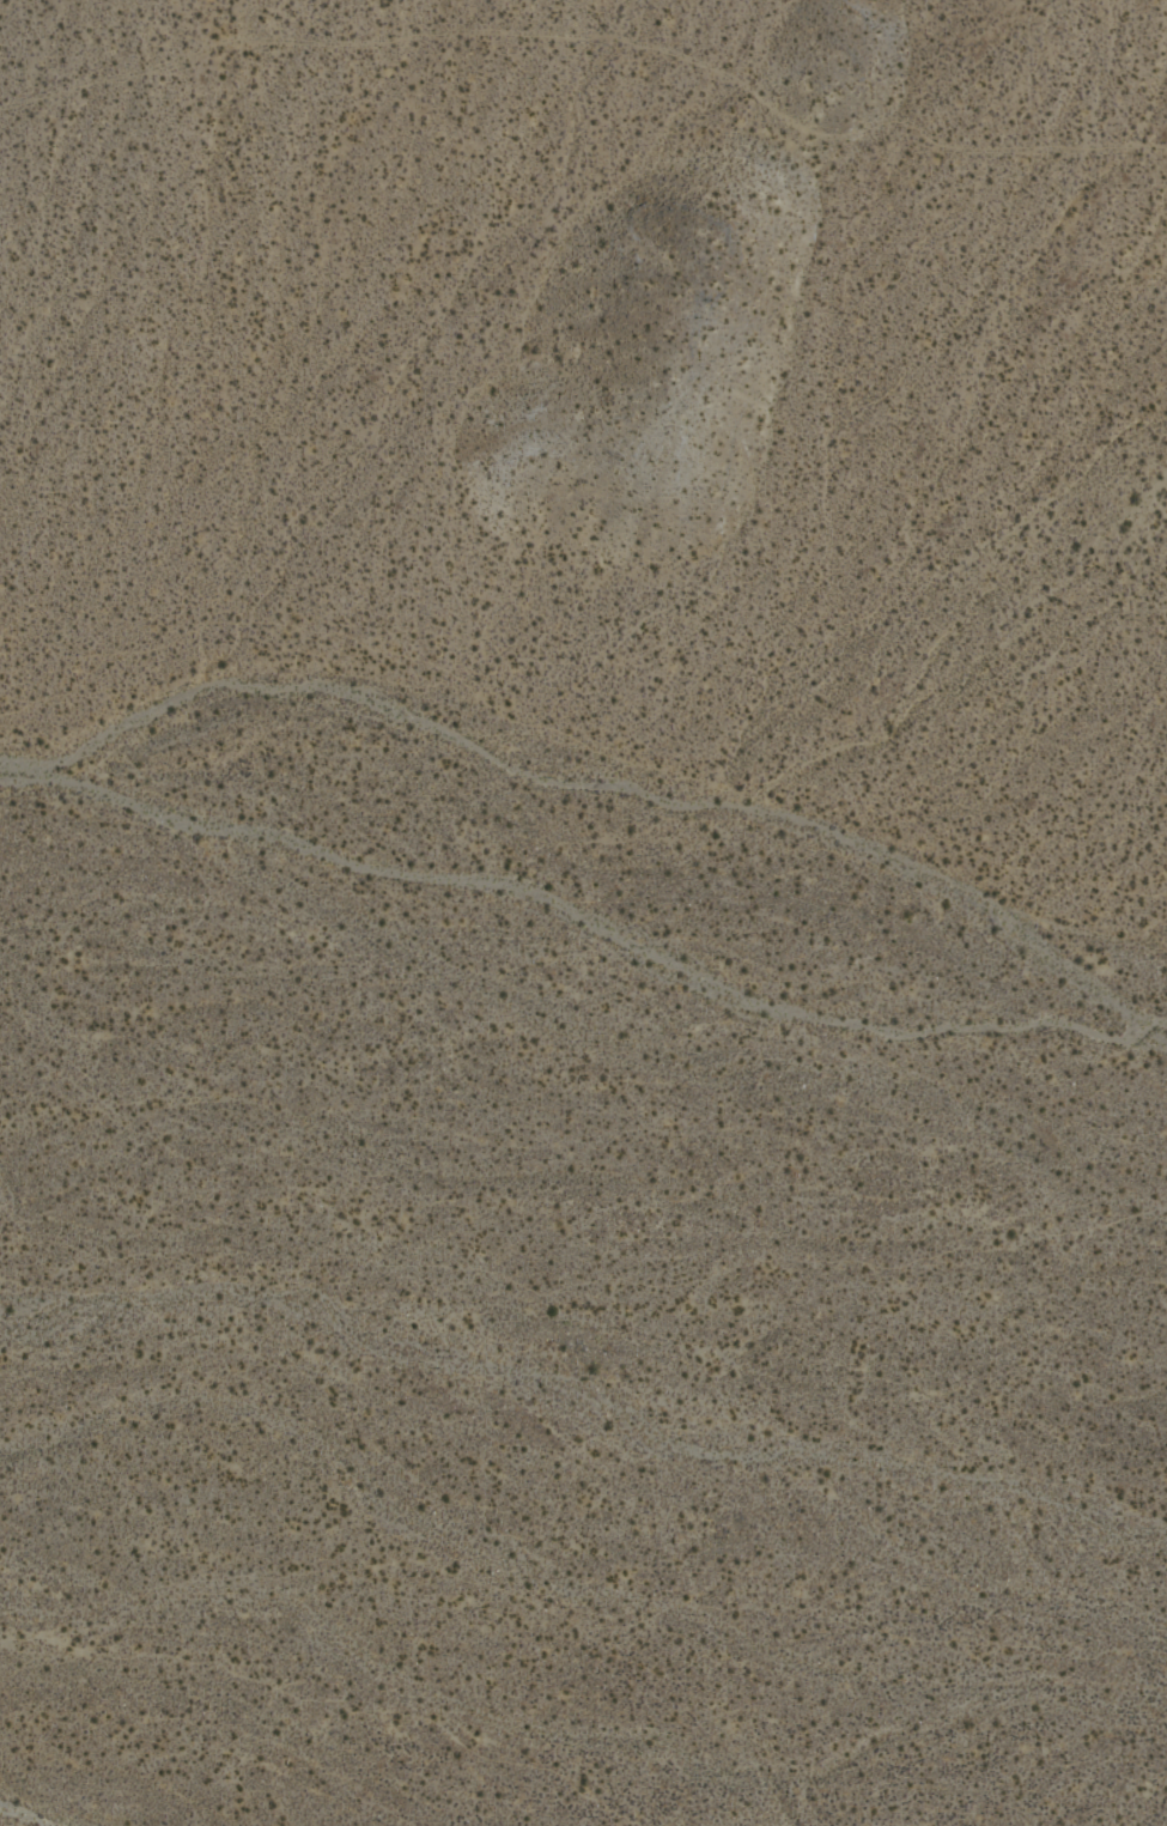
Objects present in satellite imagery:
road: (590, 34)

